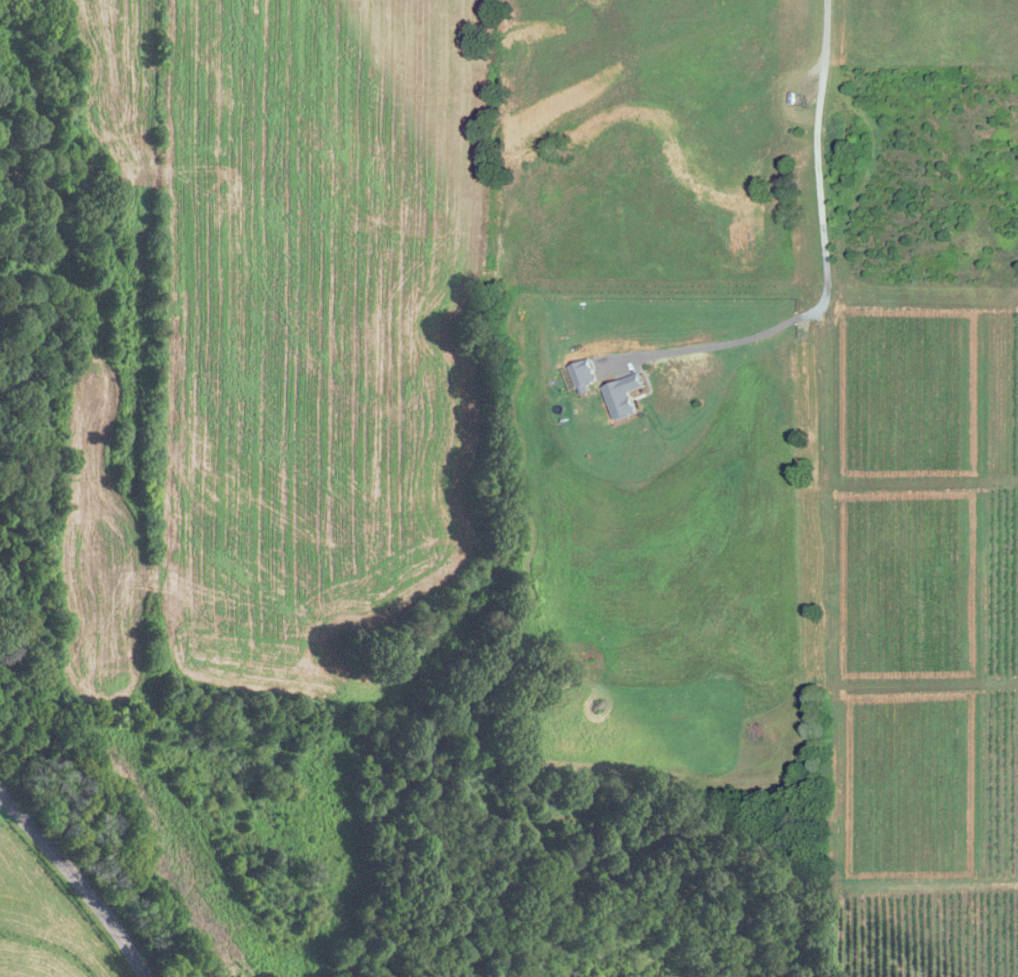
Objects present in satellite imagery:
road: (826, 46)
road: (823, 299)
road: (78, 880)

